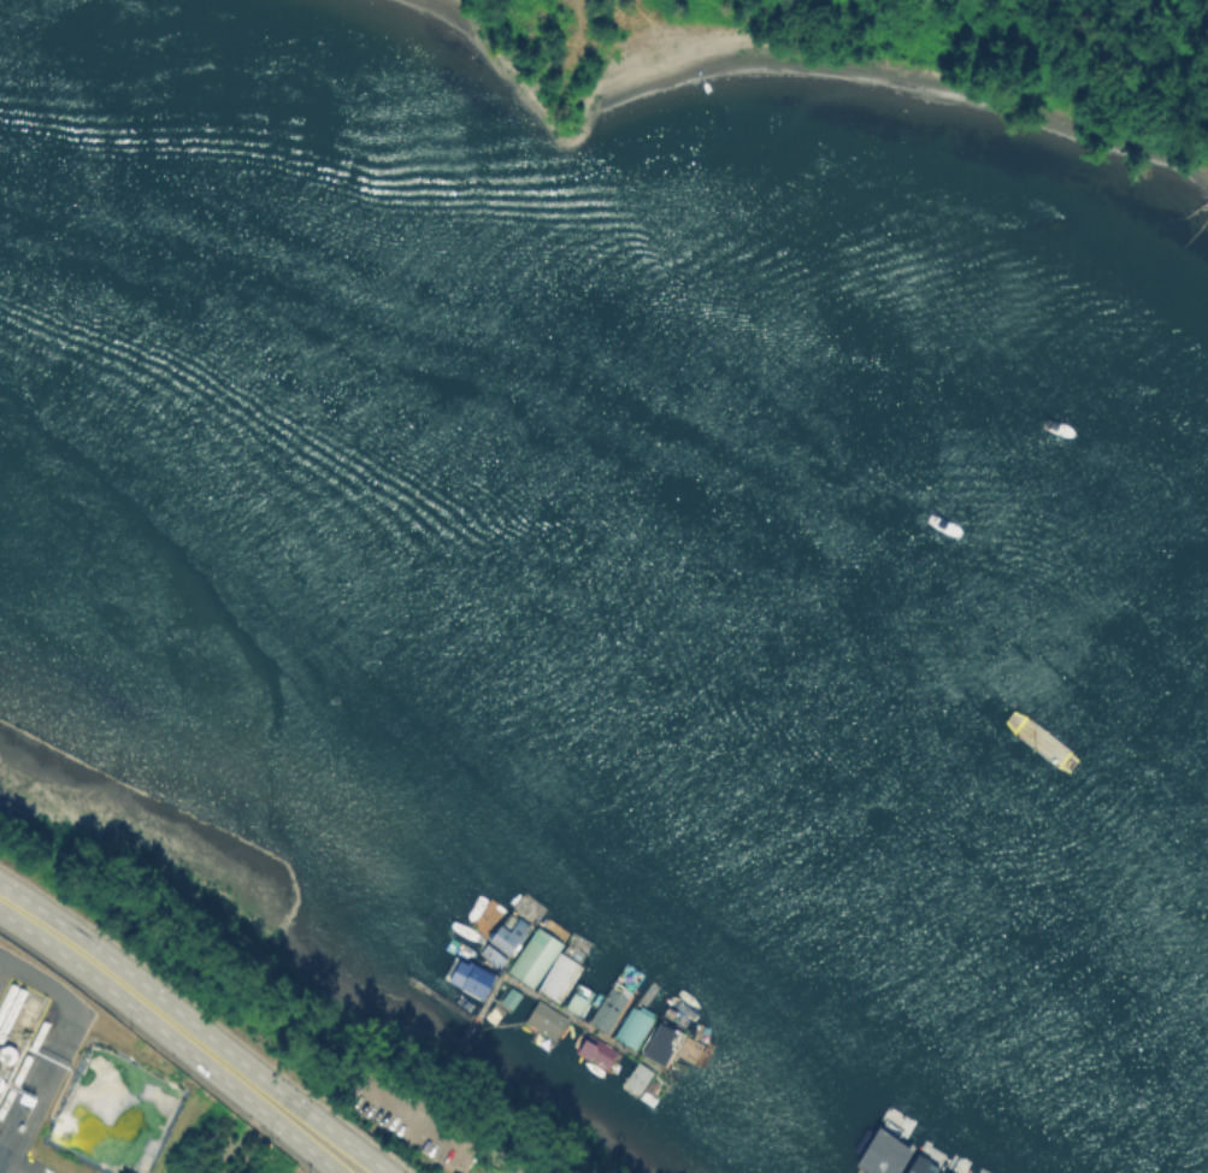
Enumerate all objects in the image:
river: (603, 633)
building: (507, 932)
building: (491, 956)
building: (534, 956)
building: (558, 975)
building: (608, 1007)
pier: (560, 1013)
road: (207, 1019)
pier: (466, 1024)
building: (631, 1026)
road: (183, 1031)
building: (661, 1042)
road: (159, 1047)
building: (596, 1050)
railway: (25, 1060)
road: (479, 1148)
building: (882, 1153)
building: (920, 1165)
building: (939, 1172)

